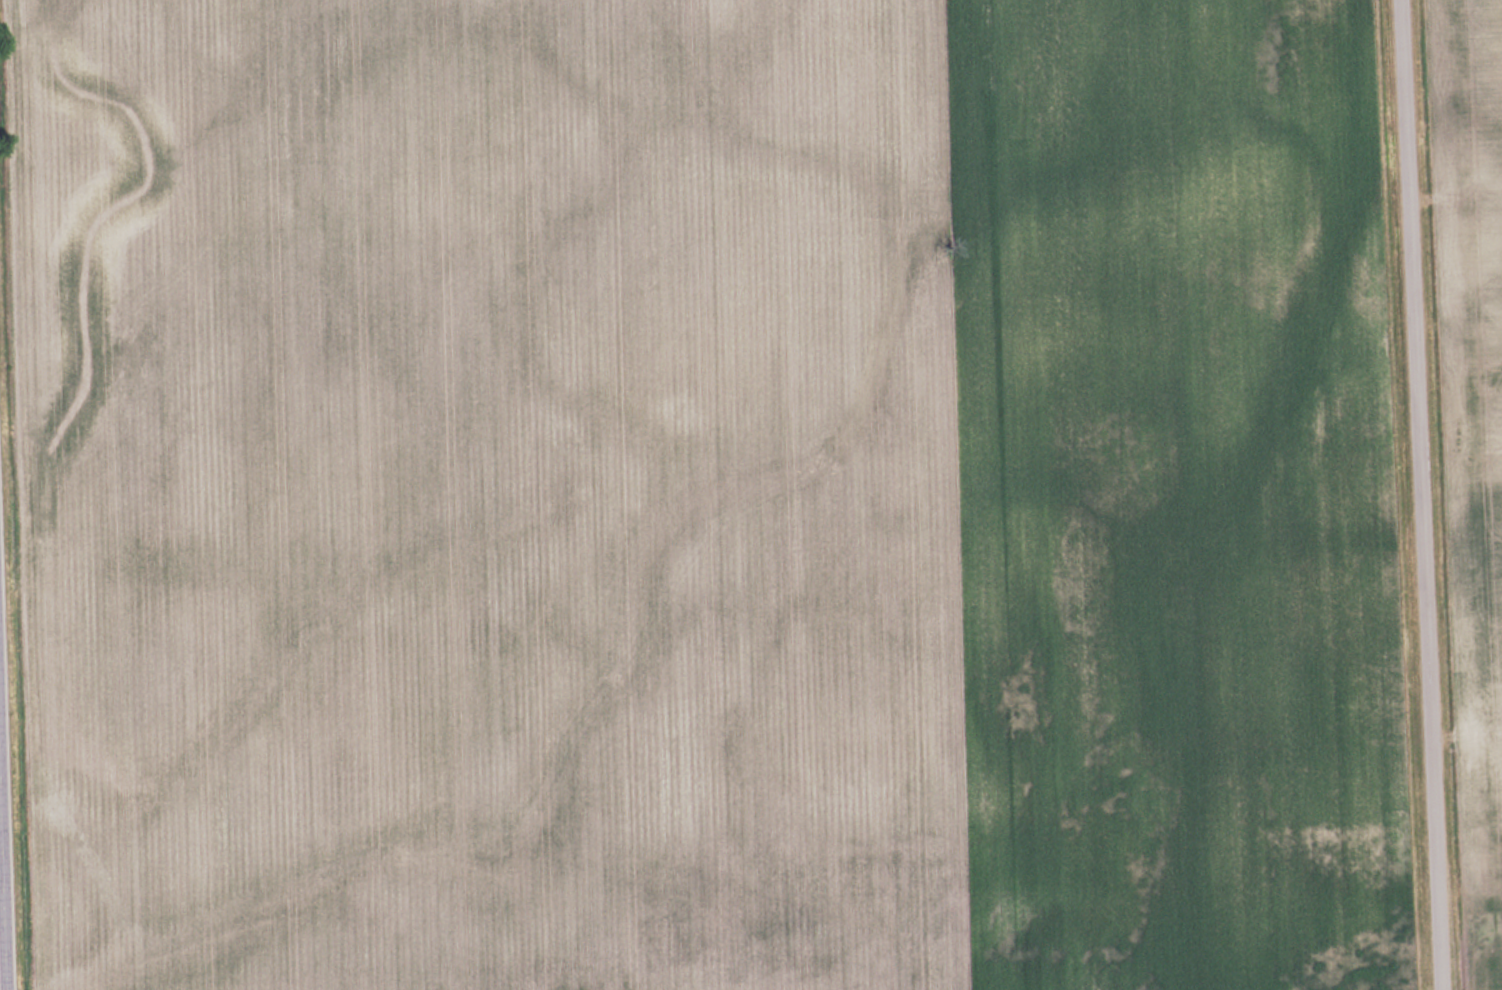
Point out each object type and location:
road: (1422, 494)
road: (3, 840)

